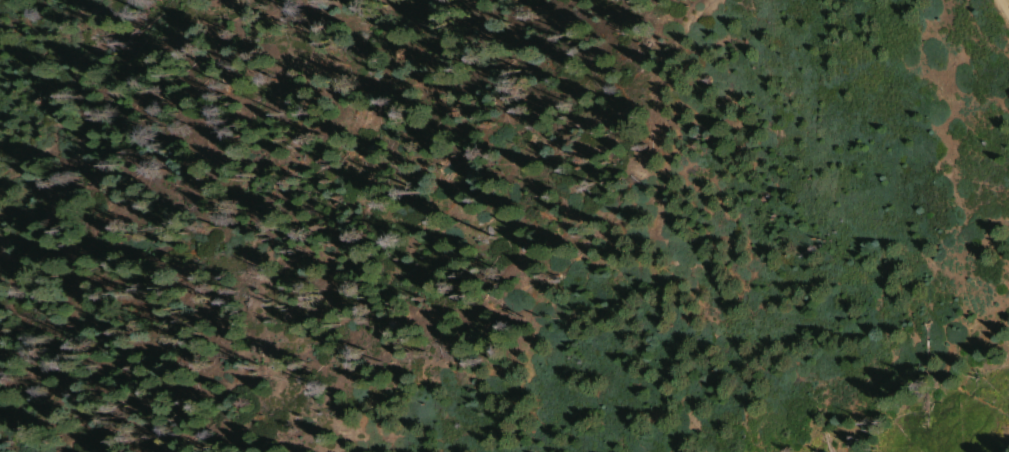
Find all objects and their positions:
road: (1004, 7)

